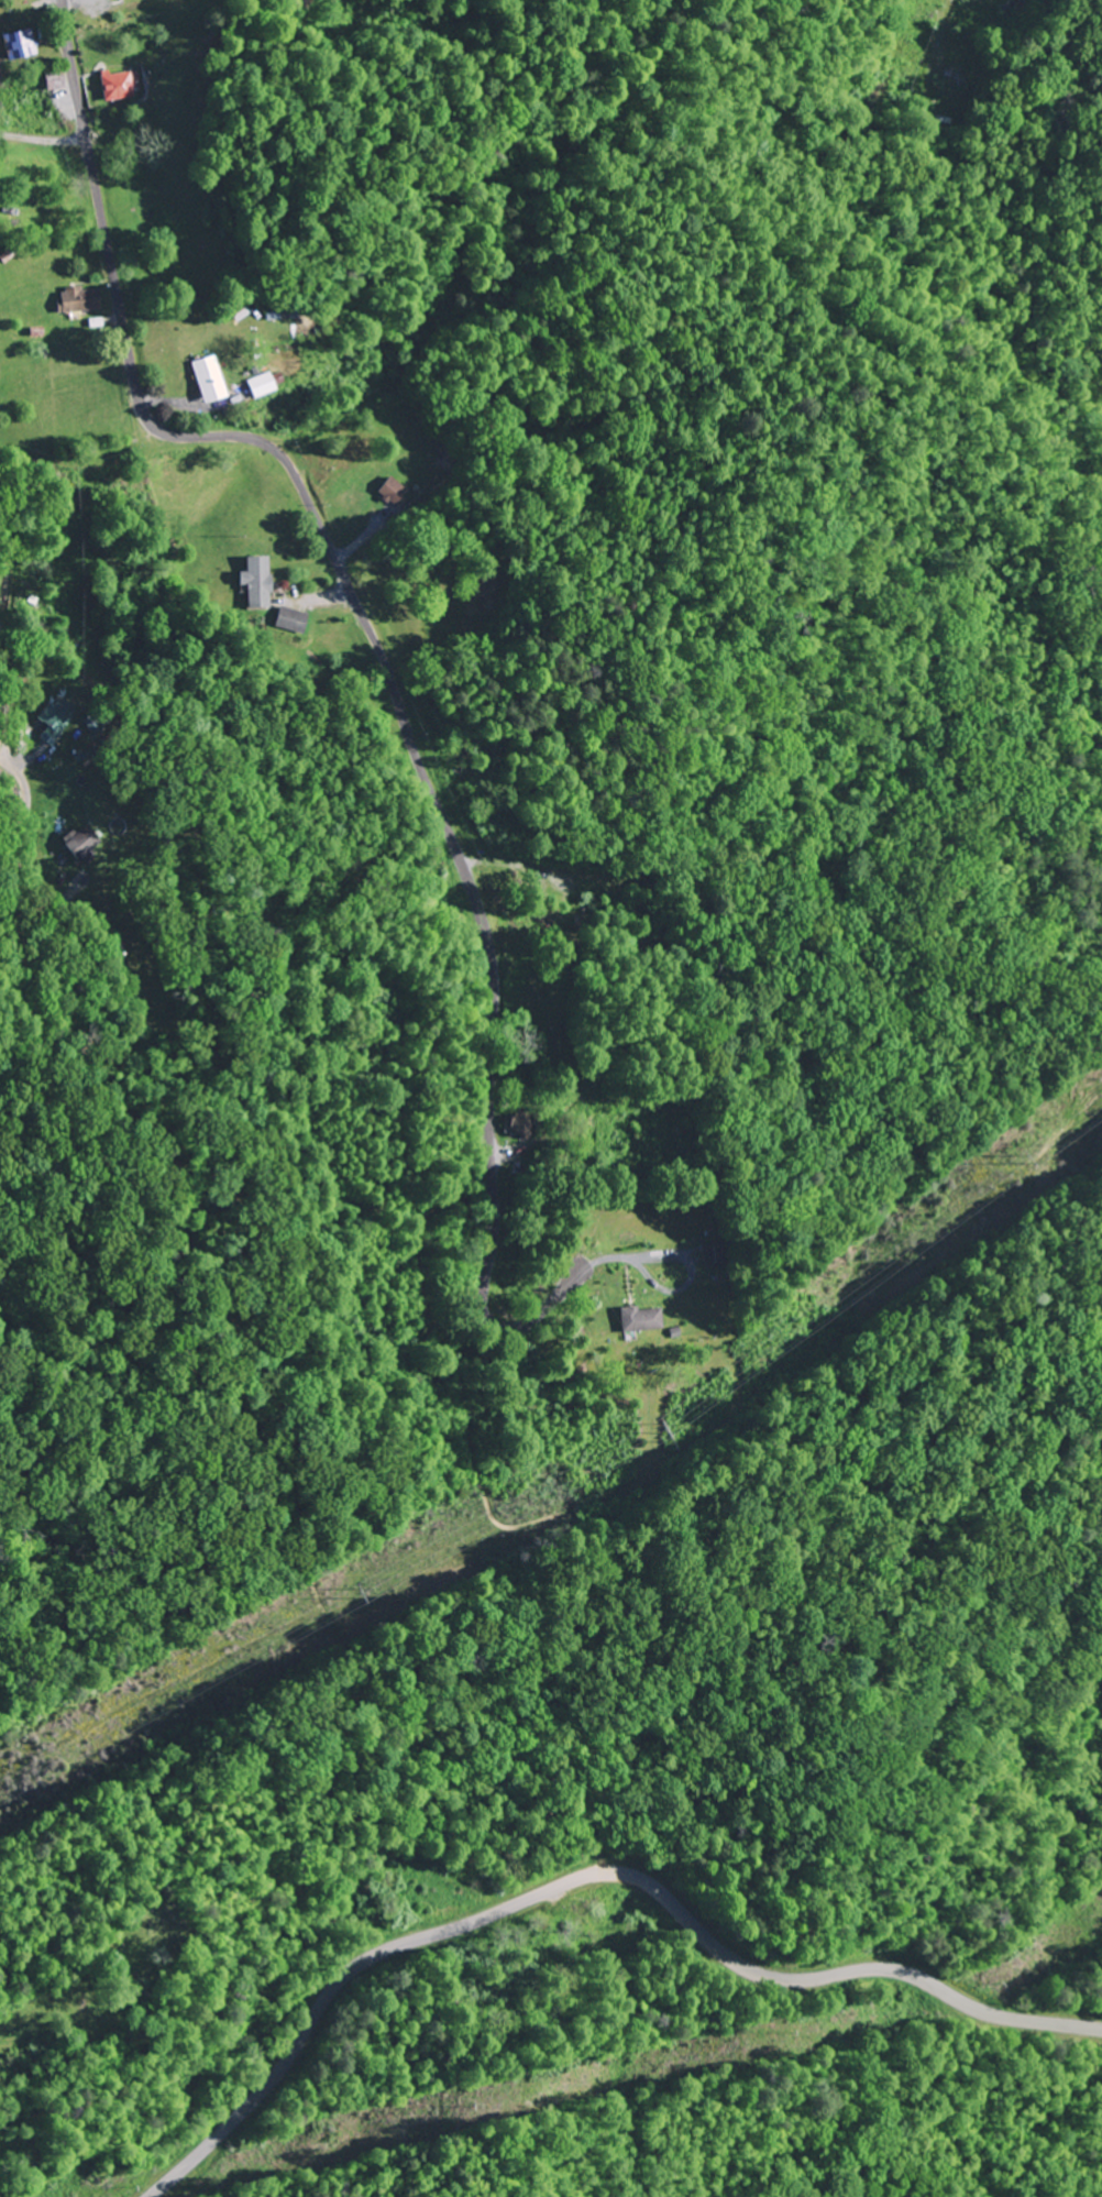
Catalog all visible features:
road: (947, 24)
building: (19, 42)
building: (938, 79)
building: (115, 84)
road: (43, 138)
building: (76, 299)
building: (328, 316)
building: (205, 377)
building: (257, 384)
road: (75, 495)
road: (4, 579)
building: (254, 579)
building: (288, 618)
road: (384, 657)
building: (53, 715)
road: (8, 762)
building: (80, 842)
building: (641, 1318)
power tower: (672, 1433)
power tower: (357, 1591)
road: (587, 1875)
road: (43, 2008)

